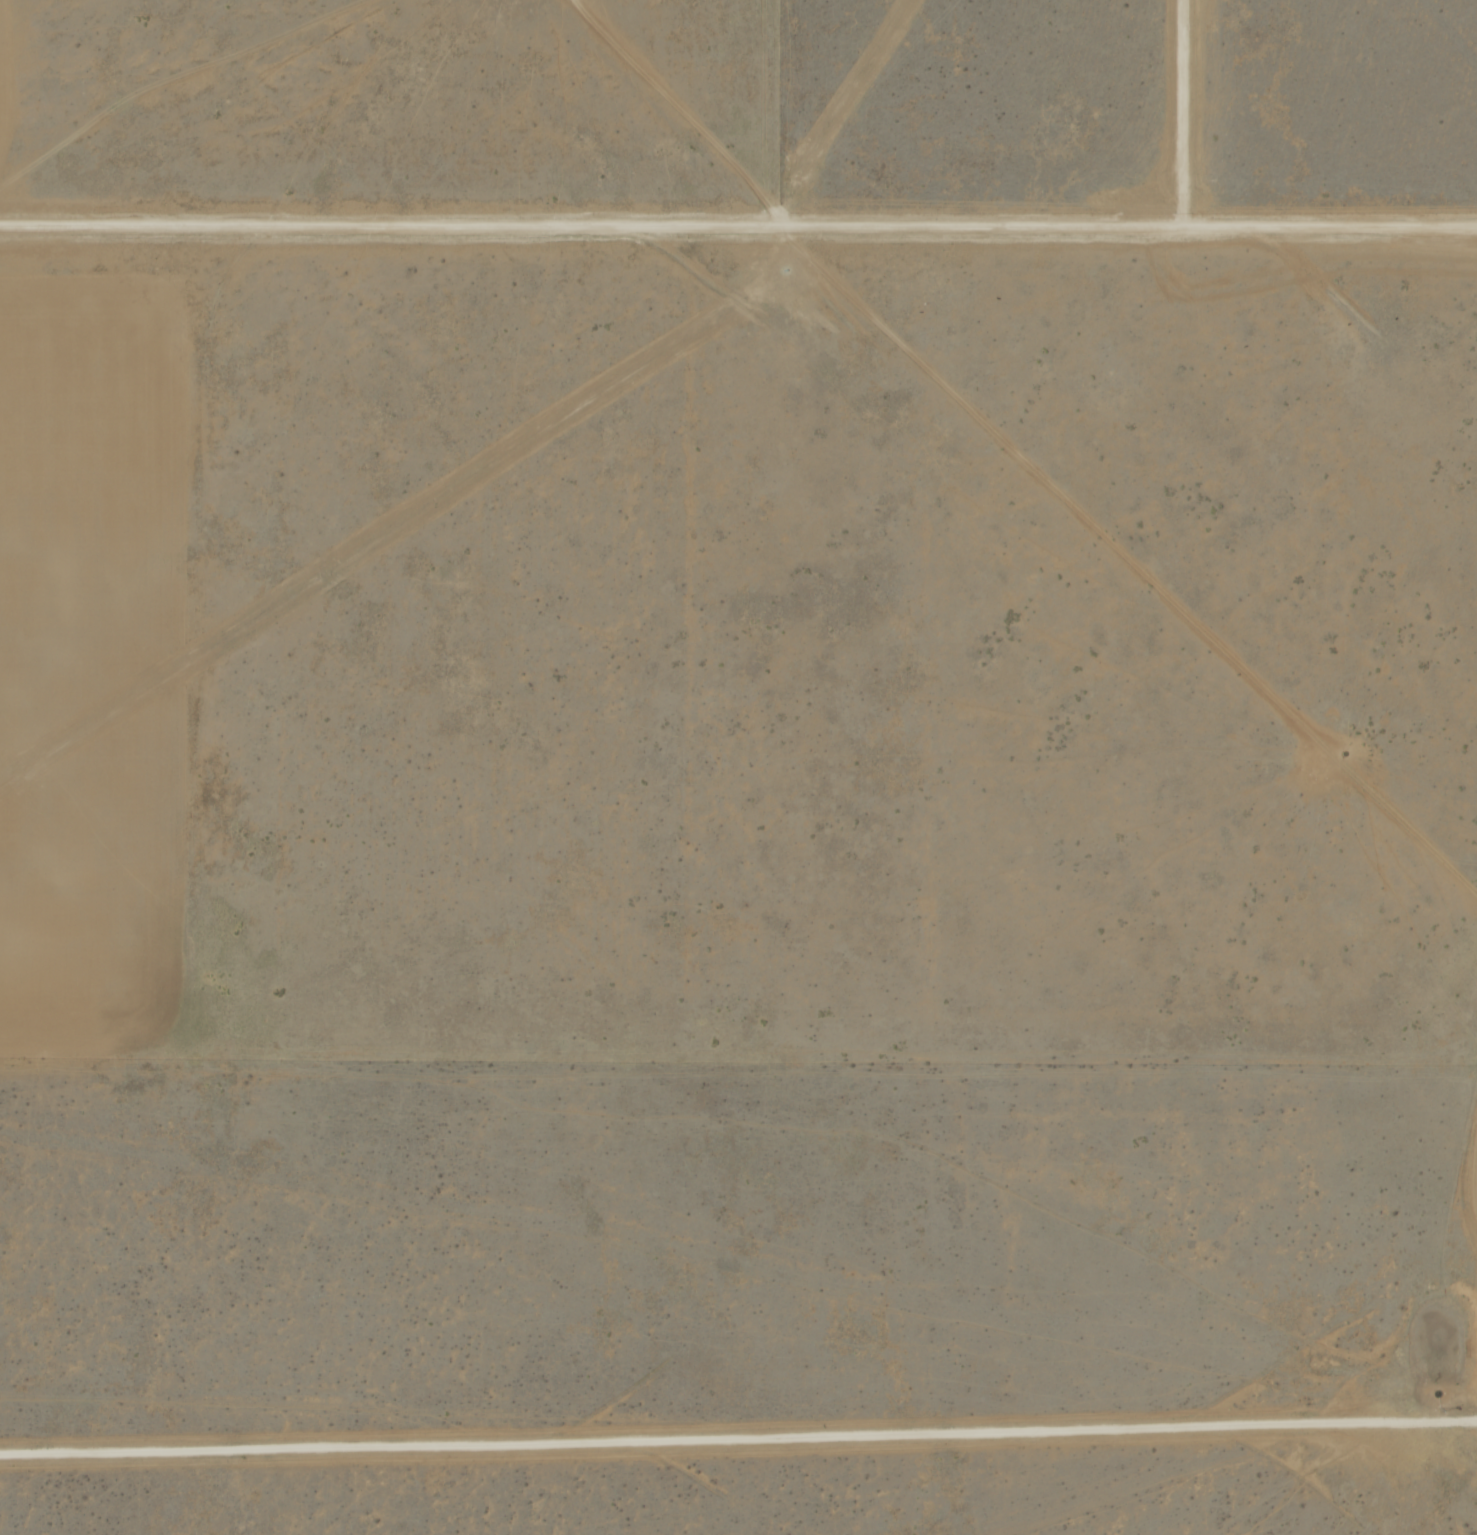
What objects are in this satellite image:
road: (738, 228)
road: (746, 1419)
road: (1033, 1505)

